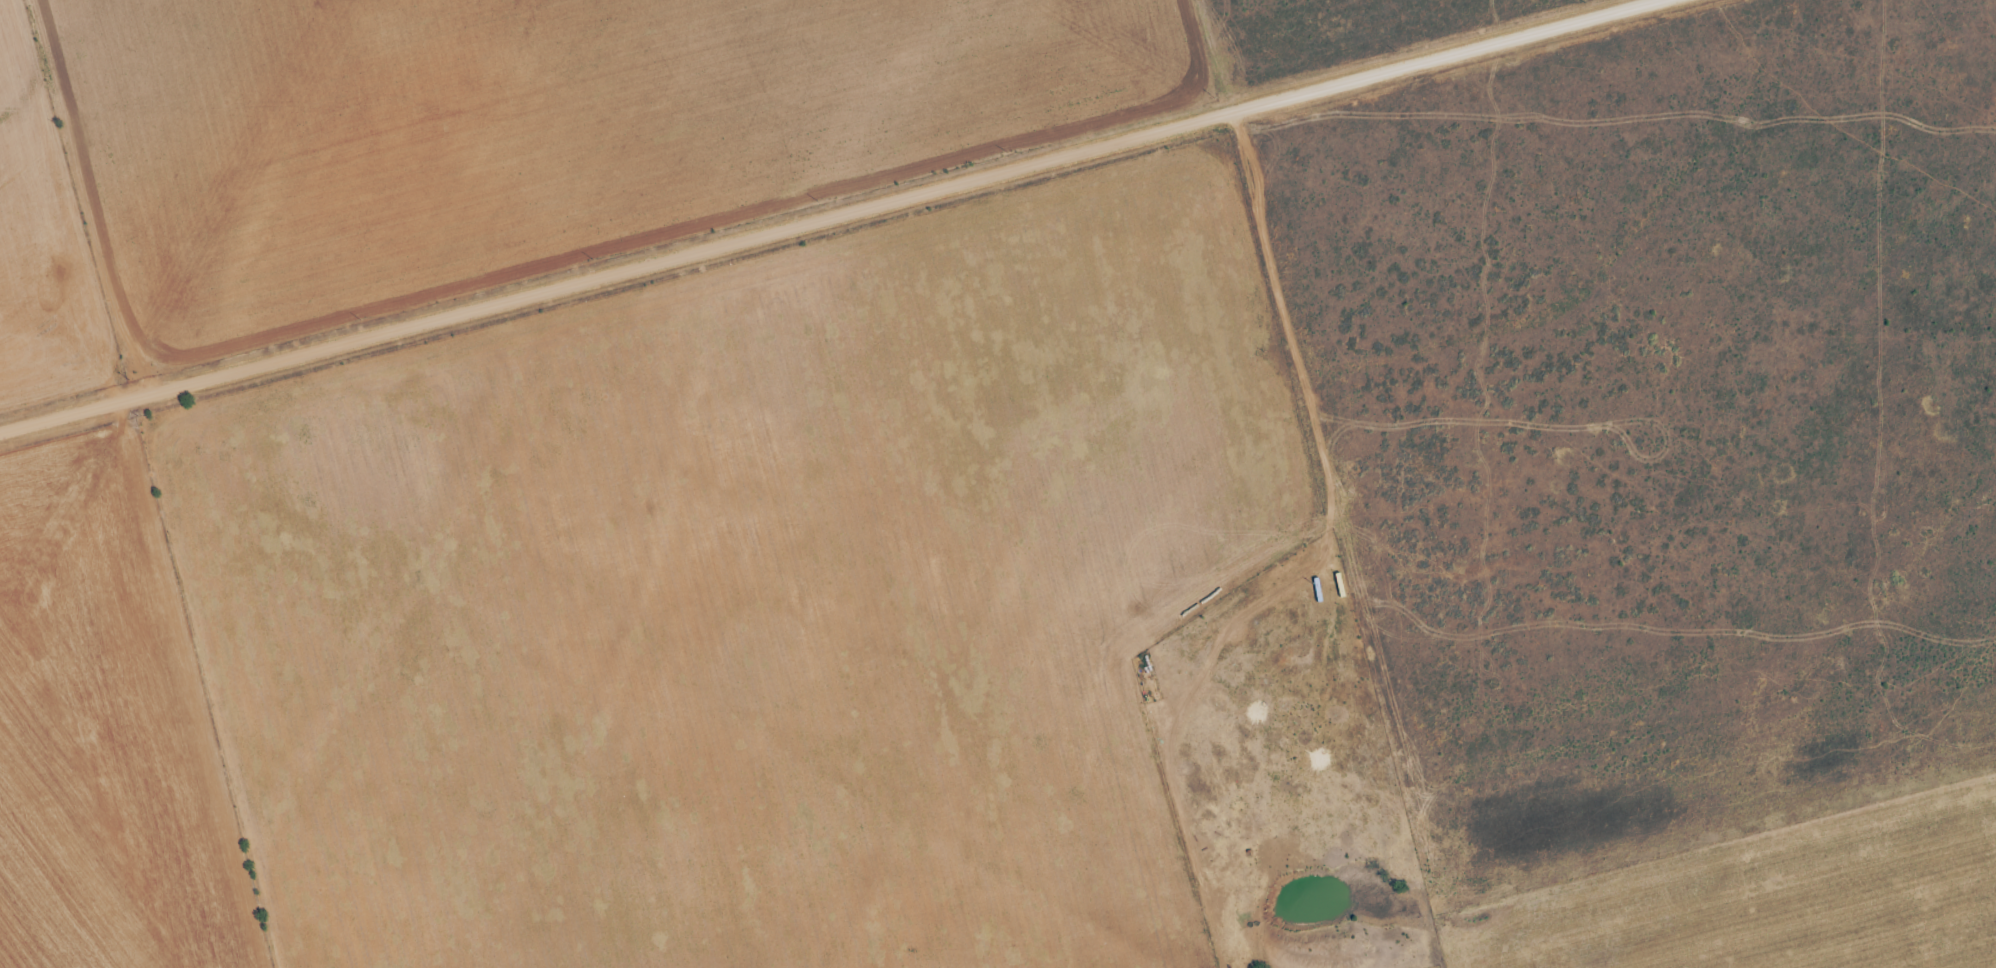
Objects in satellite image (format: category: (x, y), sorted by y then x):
road: (787, 204)
road: (1277, 349)

